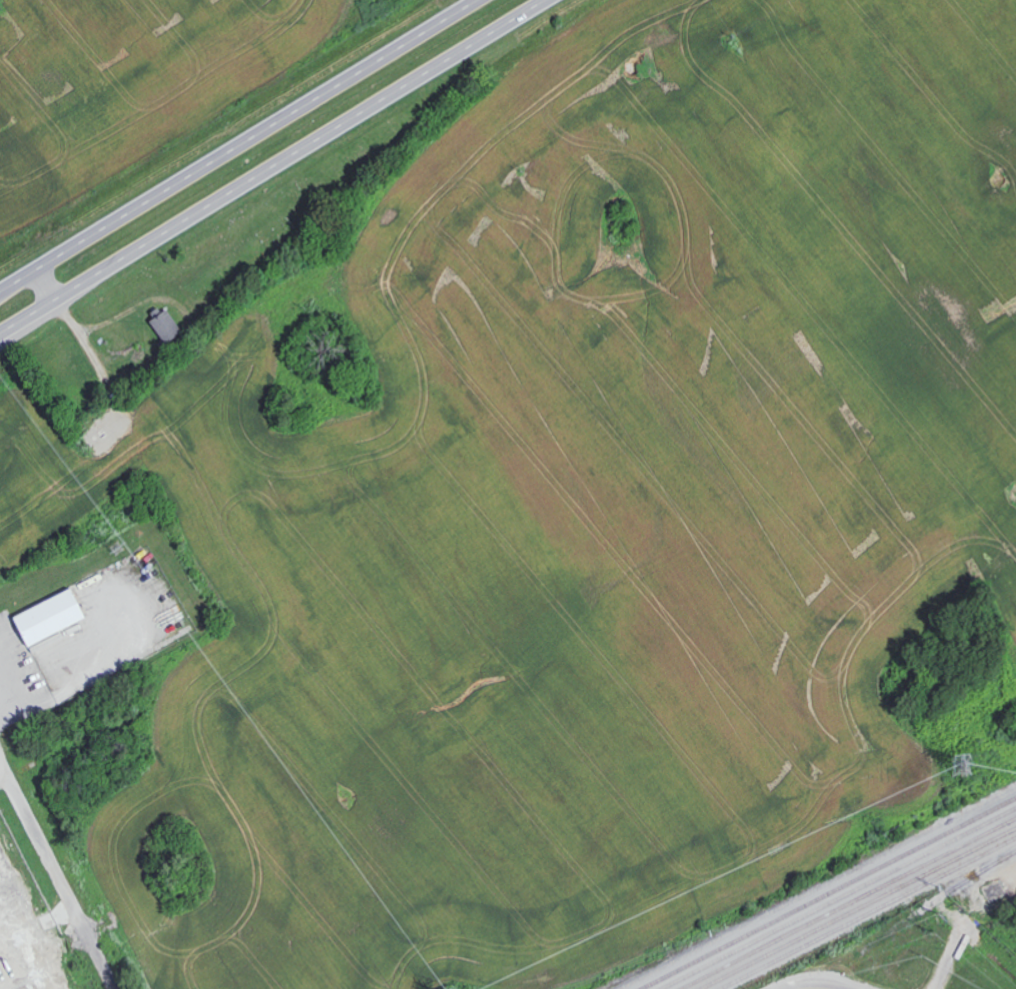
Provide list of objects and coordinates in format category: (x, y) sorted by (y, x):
crop: (135, 83)
road: (237, 145)
road: (276, 169)
park: (230, 267)
building: (169, 324)
crop: (582, 506)
power tower: (118, 550)
building: (55, 617)
road: (16, 694)
power tower: (958, 767)
road: (3, 775)
road: (43, 843)
railway: (984, 870)
railway: (828, 893)
railway: (841, 899)
railway: (849, 904)
railway: (858, 908)
railway: (868, 913)

